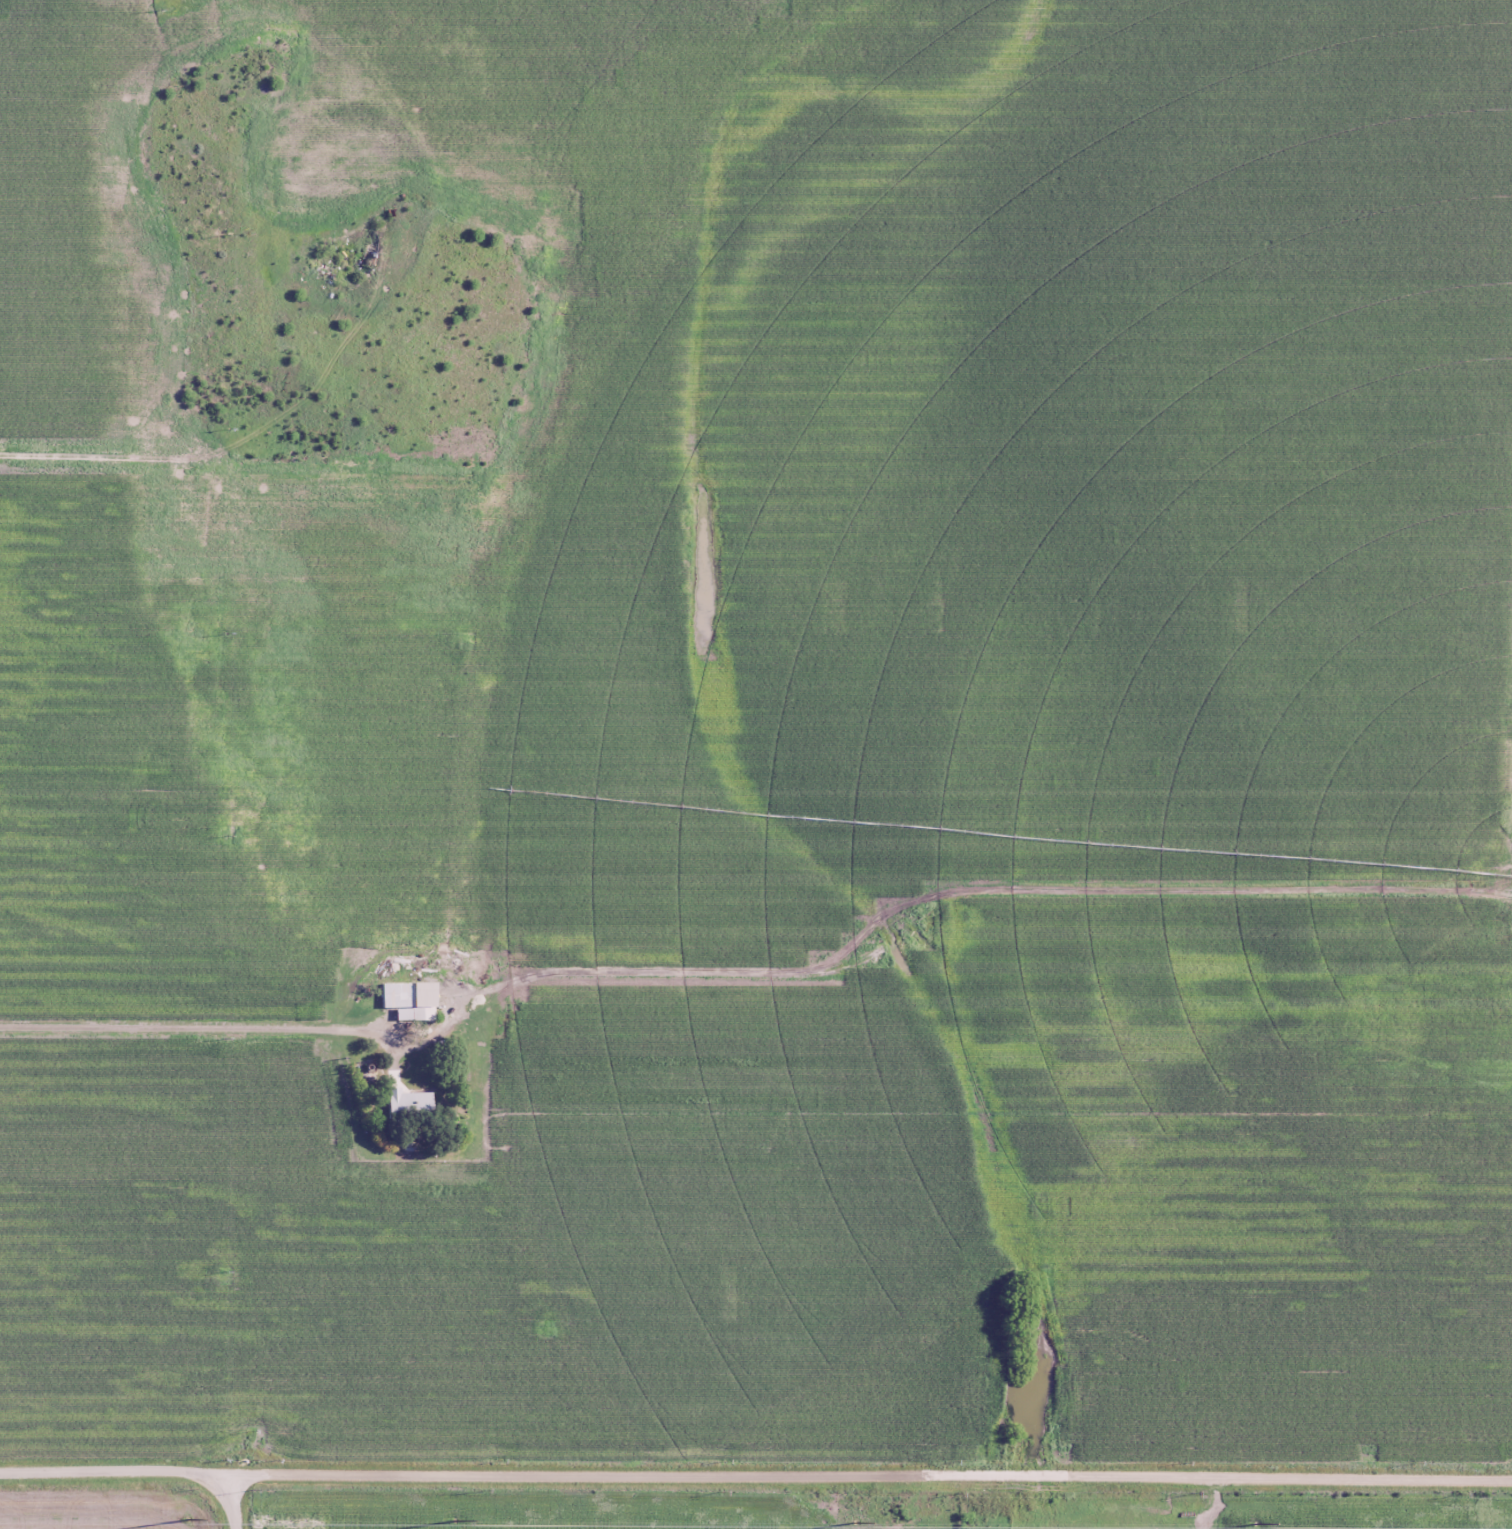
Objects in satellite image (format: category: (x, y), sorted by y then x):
building: (406, 1000)
road: (162, 1014)
road: (755, 1475)
power tower: (253, 1489)
power tower: (484, 1490)
power tower: (722, 1491)
road: (239, 1493)
power tower: (958, 1493)
power tower: (1193, 1494)
power tower: (1462, 1494)
road: (220, 1497)
power tower: (470, 1519)
power tower: (189, 1520)
power tower: (854, 1521)
power tower: (1253, 1524)

